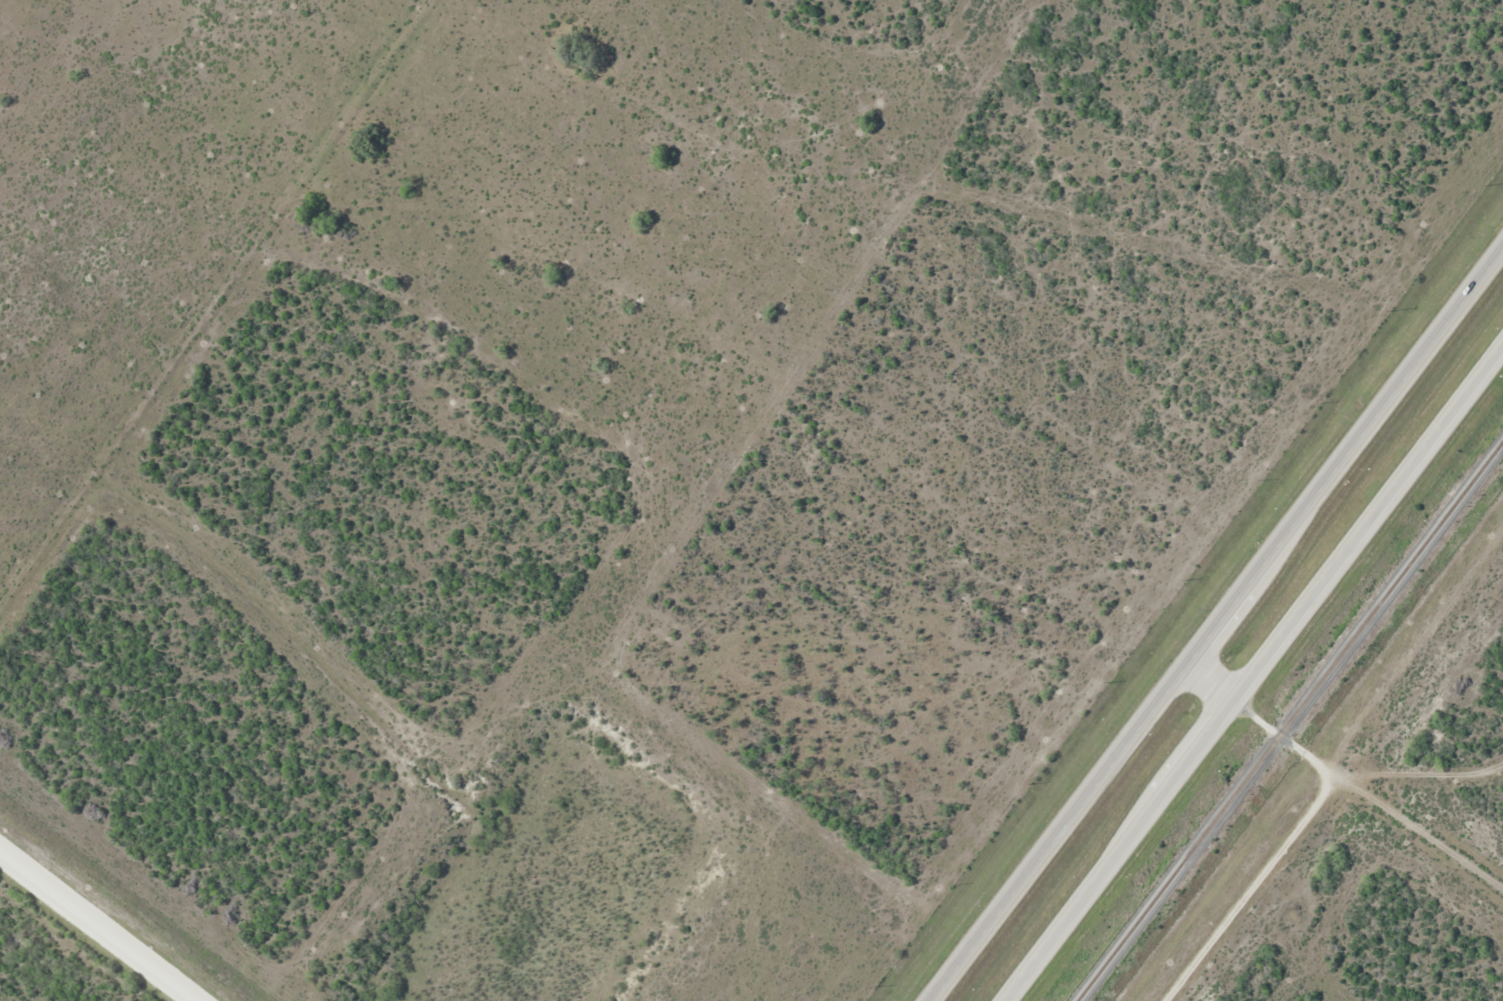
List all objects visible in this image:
building: (1459, 404)
road: (1216, 621)
road: (1253, 672)
railway: (1289, 723)
building: (1111, 758)
road: (1342, 779)
road: (1252, 888)
road: (90, 930)

